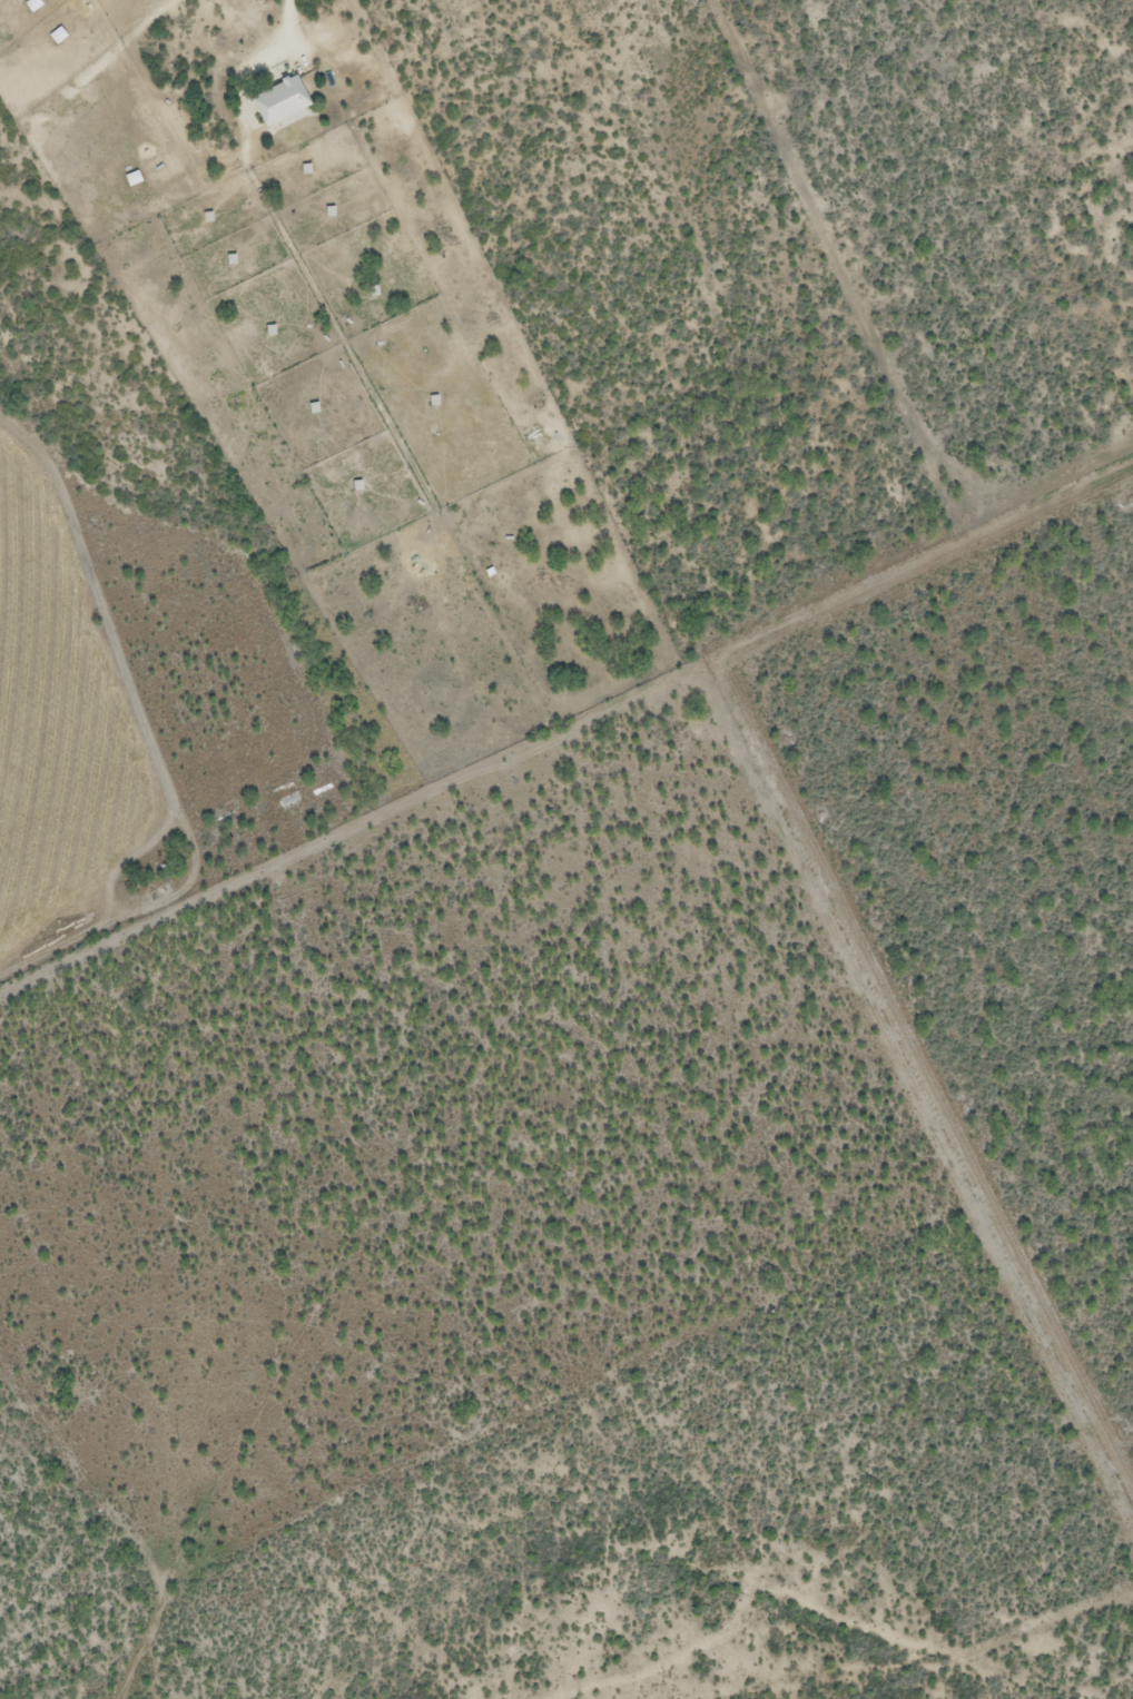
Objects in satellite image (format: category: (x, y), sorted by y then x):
building: (278, 103)
building: (288, 802)

